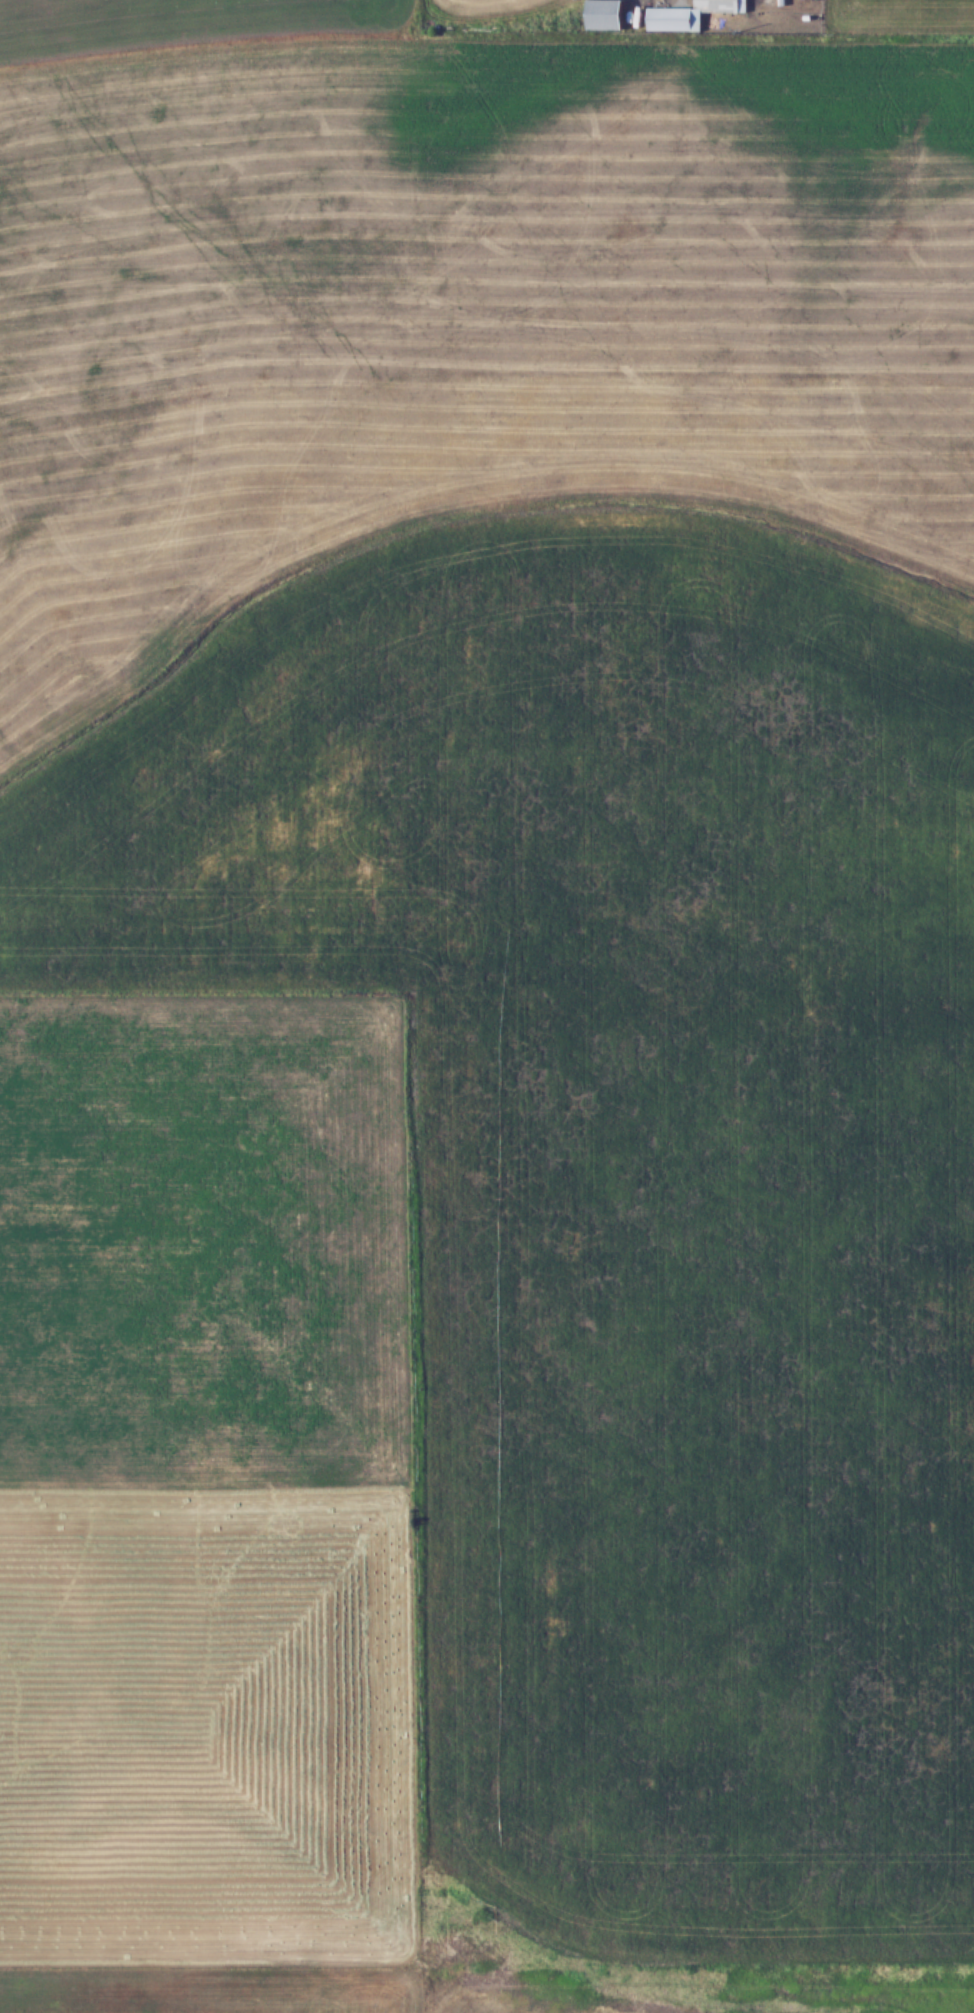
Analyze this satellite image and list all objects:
building: (690, 14)

